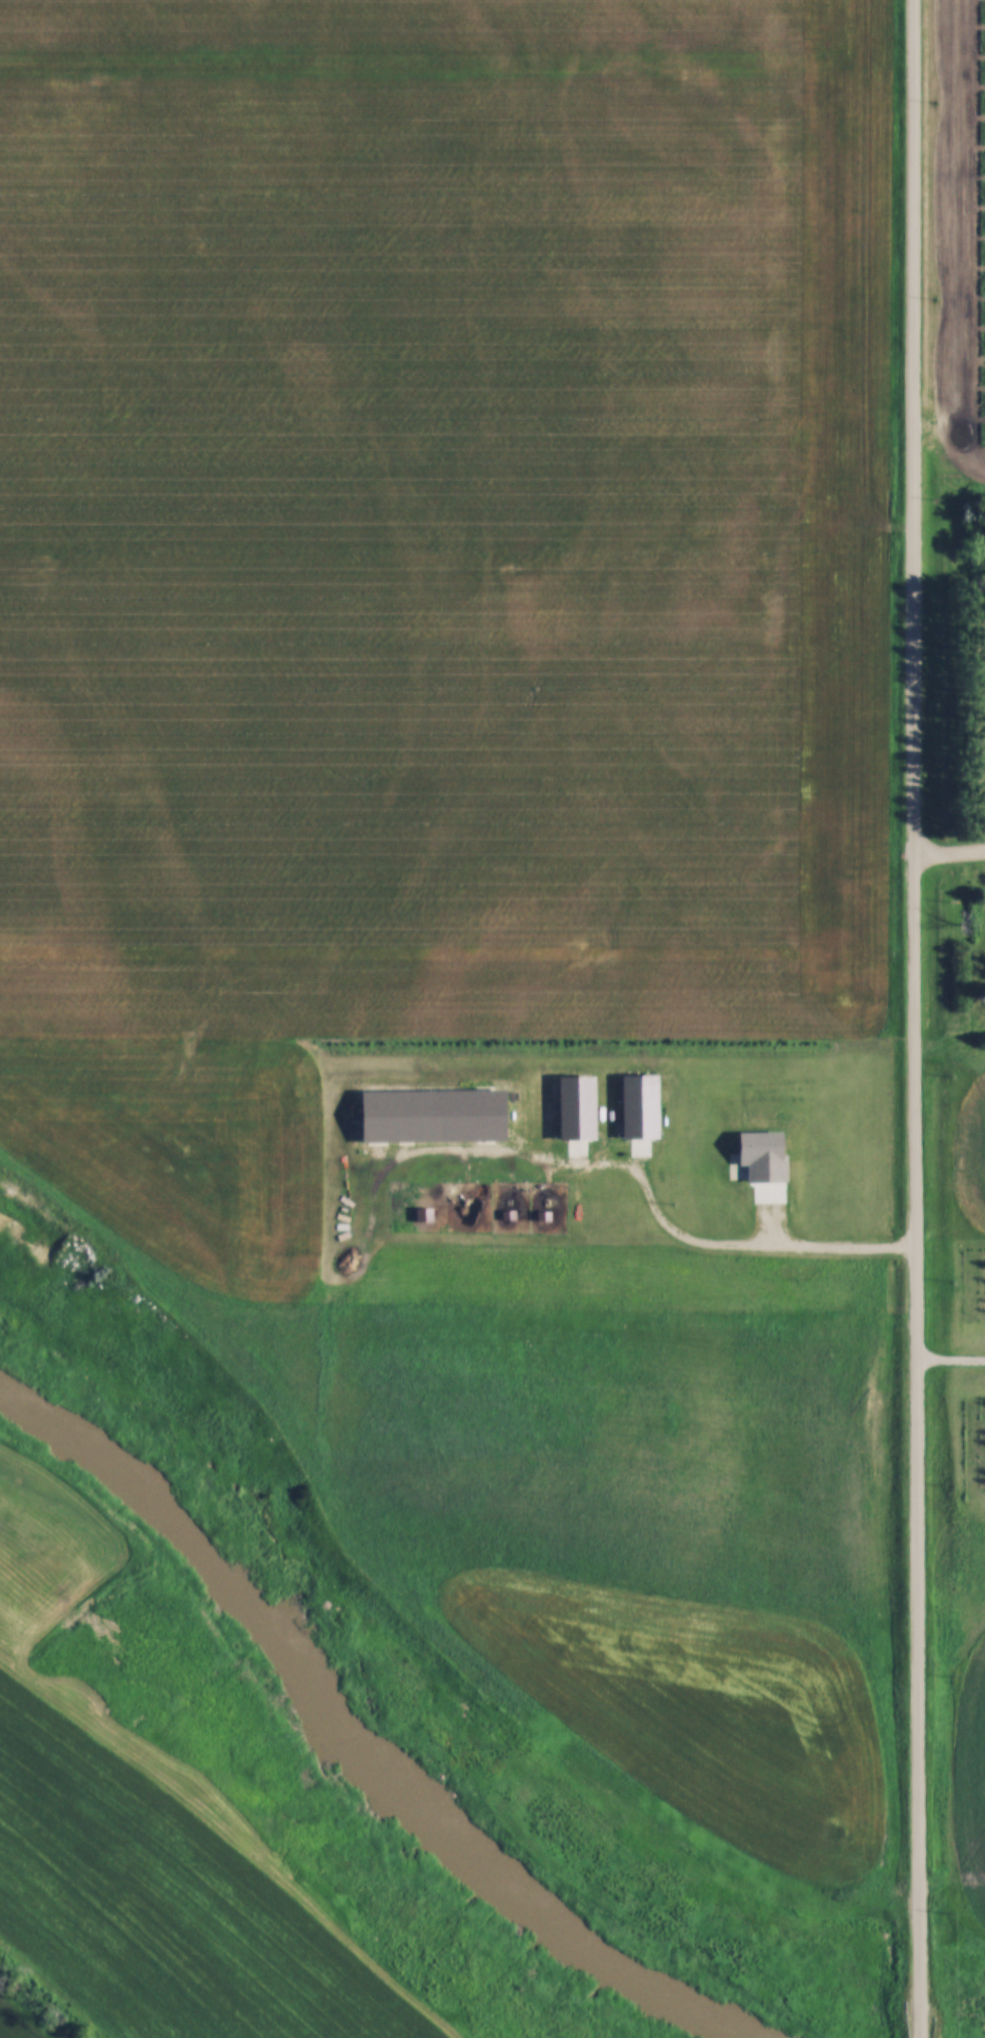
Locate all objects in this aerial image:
road: (951, 854)
road: (916, 1019)
road: (756, 1243)
road: (949, 1363)
river: (338, 1702)
river: (731, 2017)

